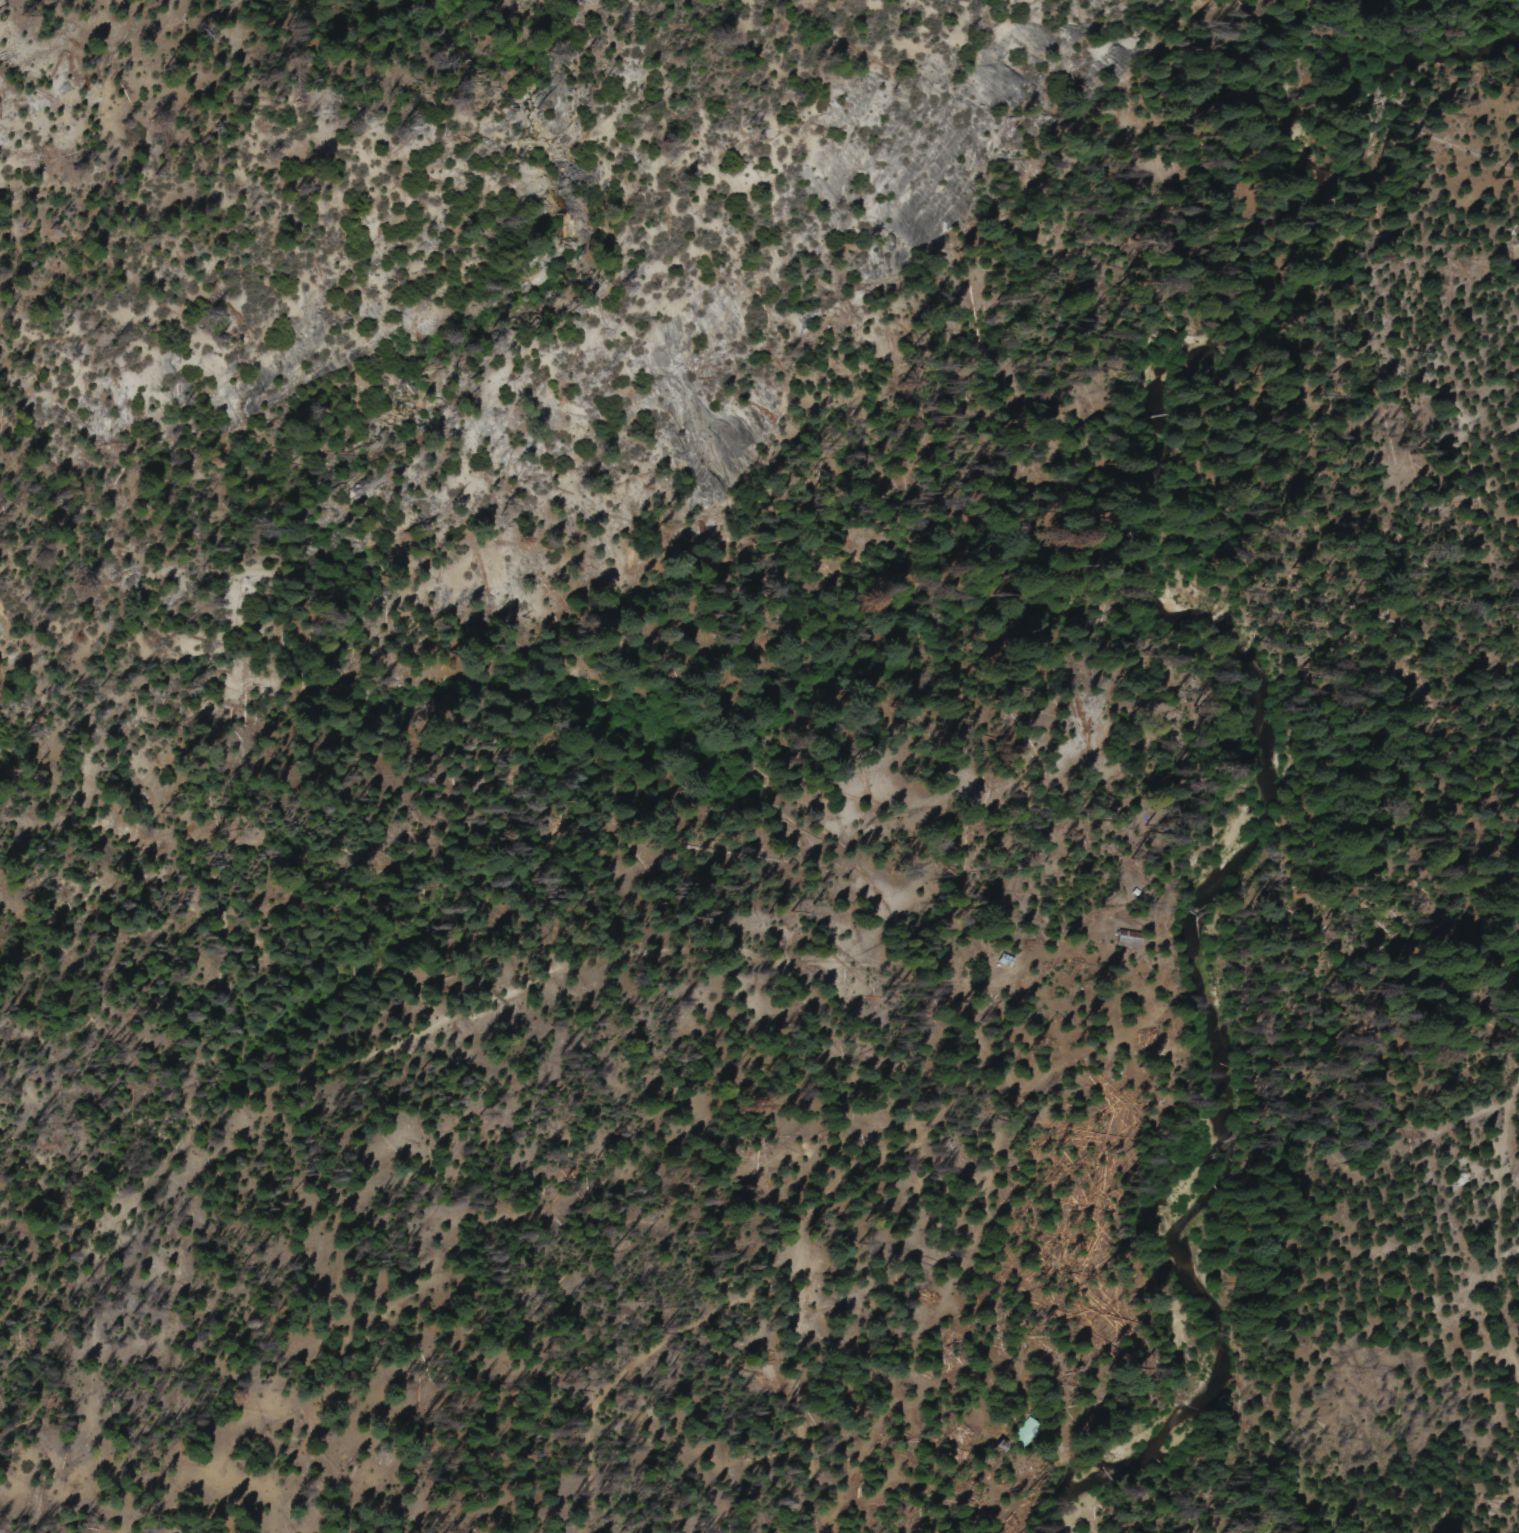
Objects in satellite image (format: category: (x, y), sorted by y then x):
building: (1005, 958)
road: (936, 1218)
road: (1498, 1257)

